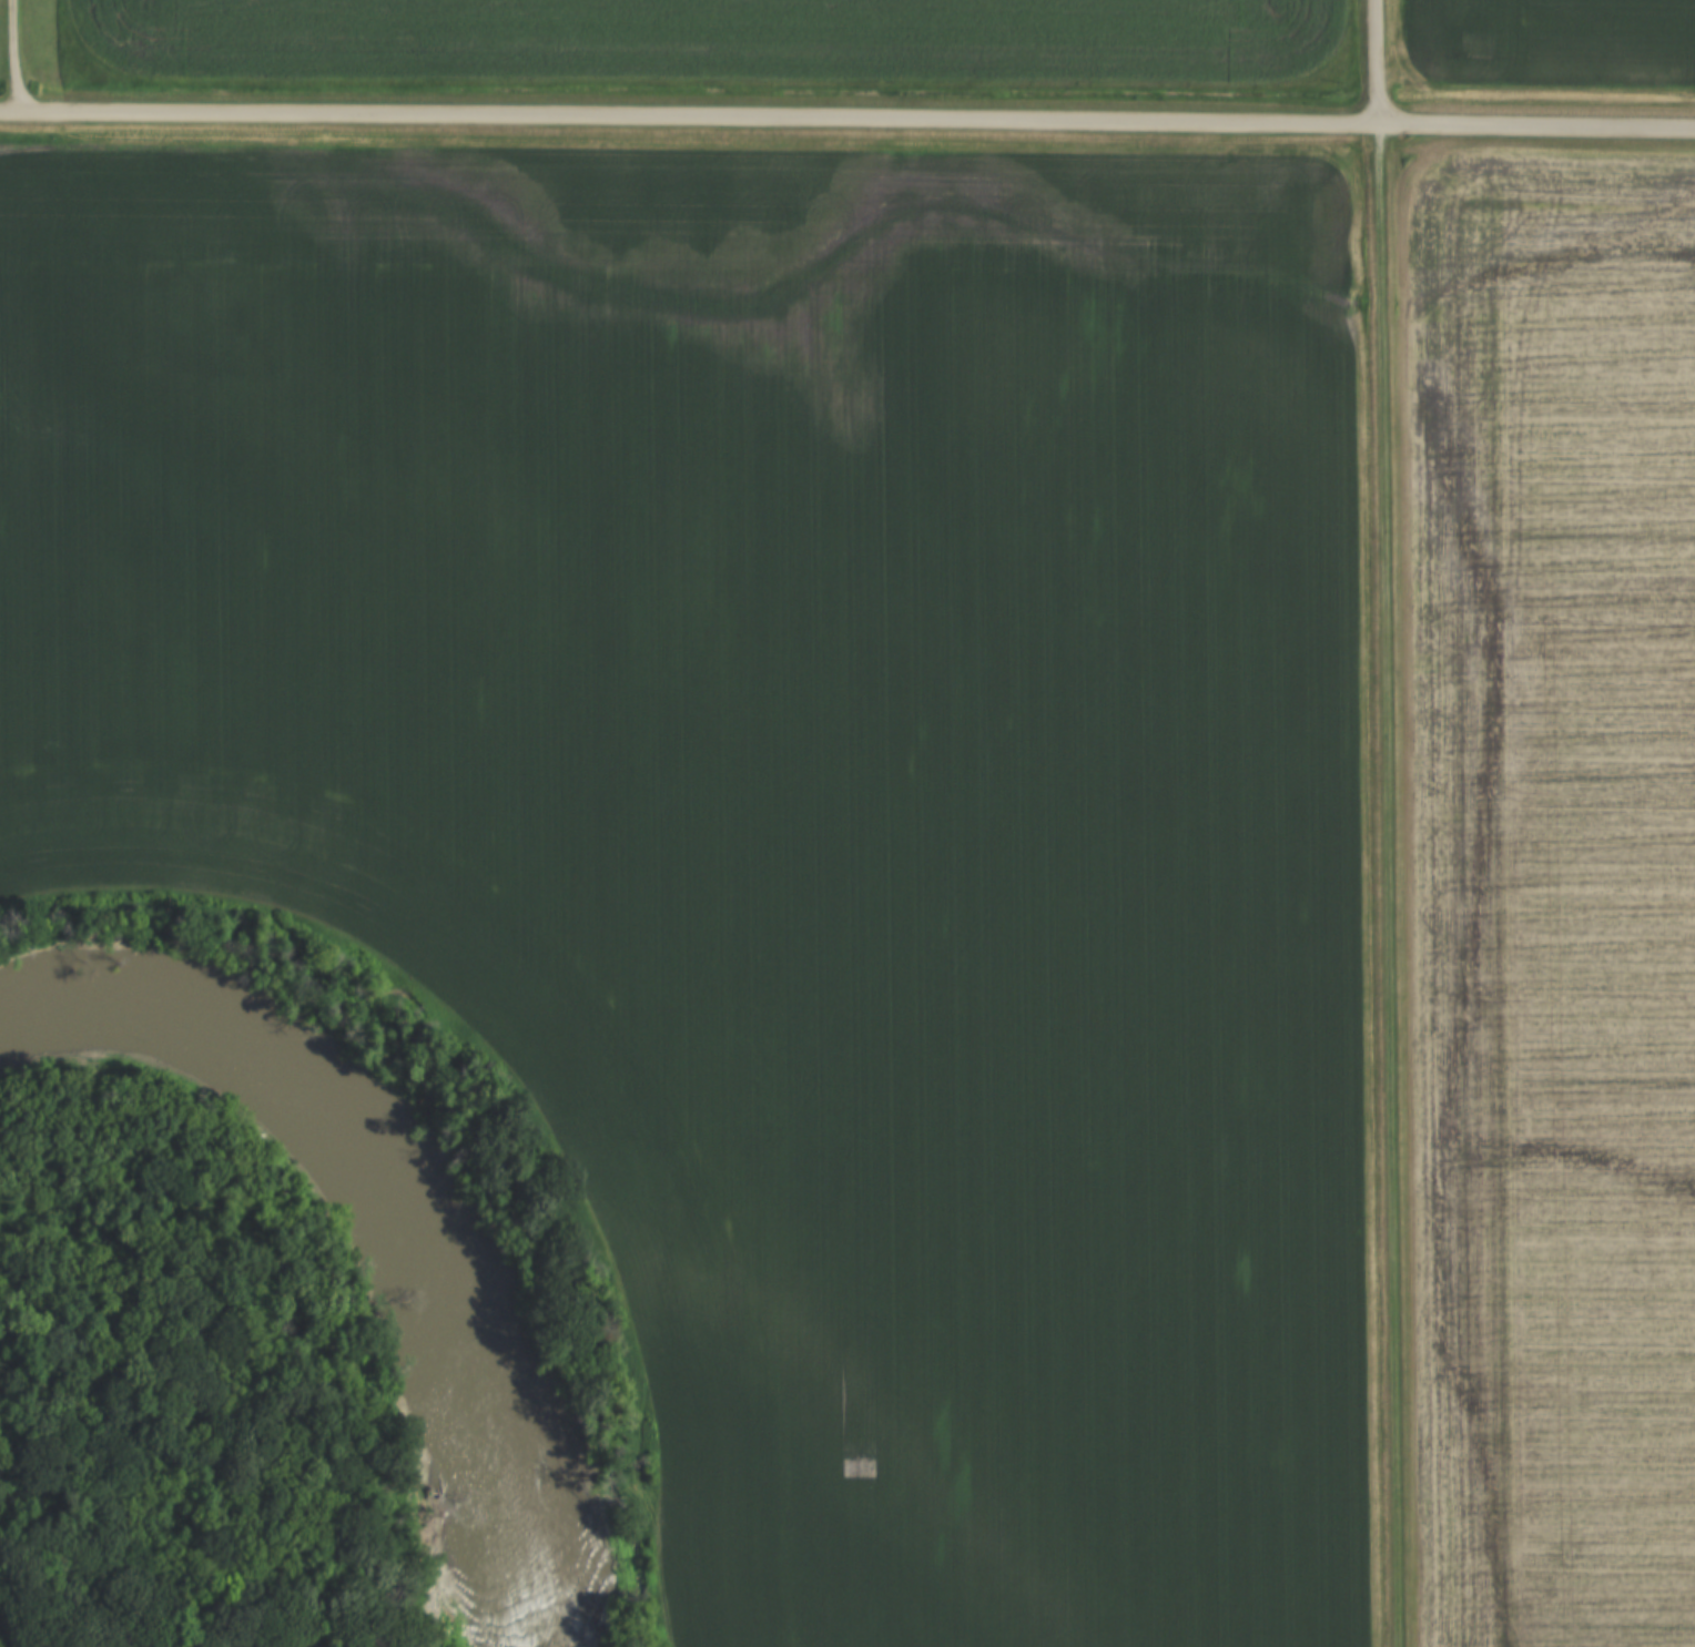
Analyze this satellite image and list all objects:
road: (11, 54)
road: (1376, 61)
road: (689, 115)
road: (1536, 125)
road: (1386, 885)
river: (390, 1207)

